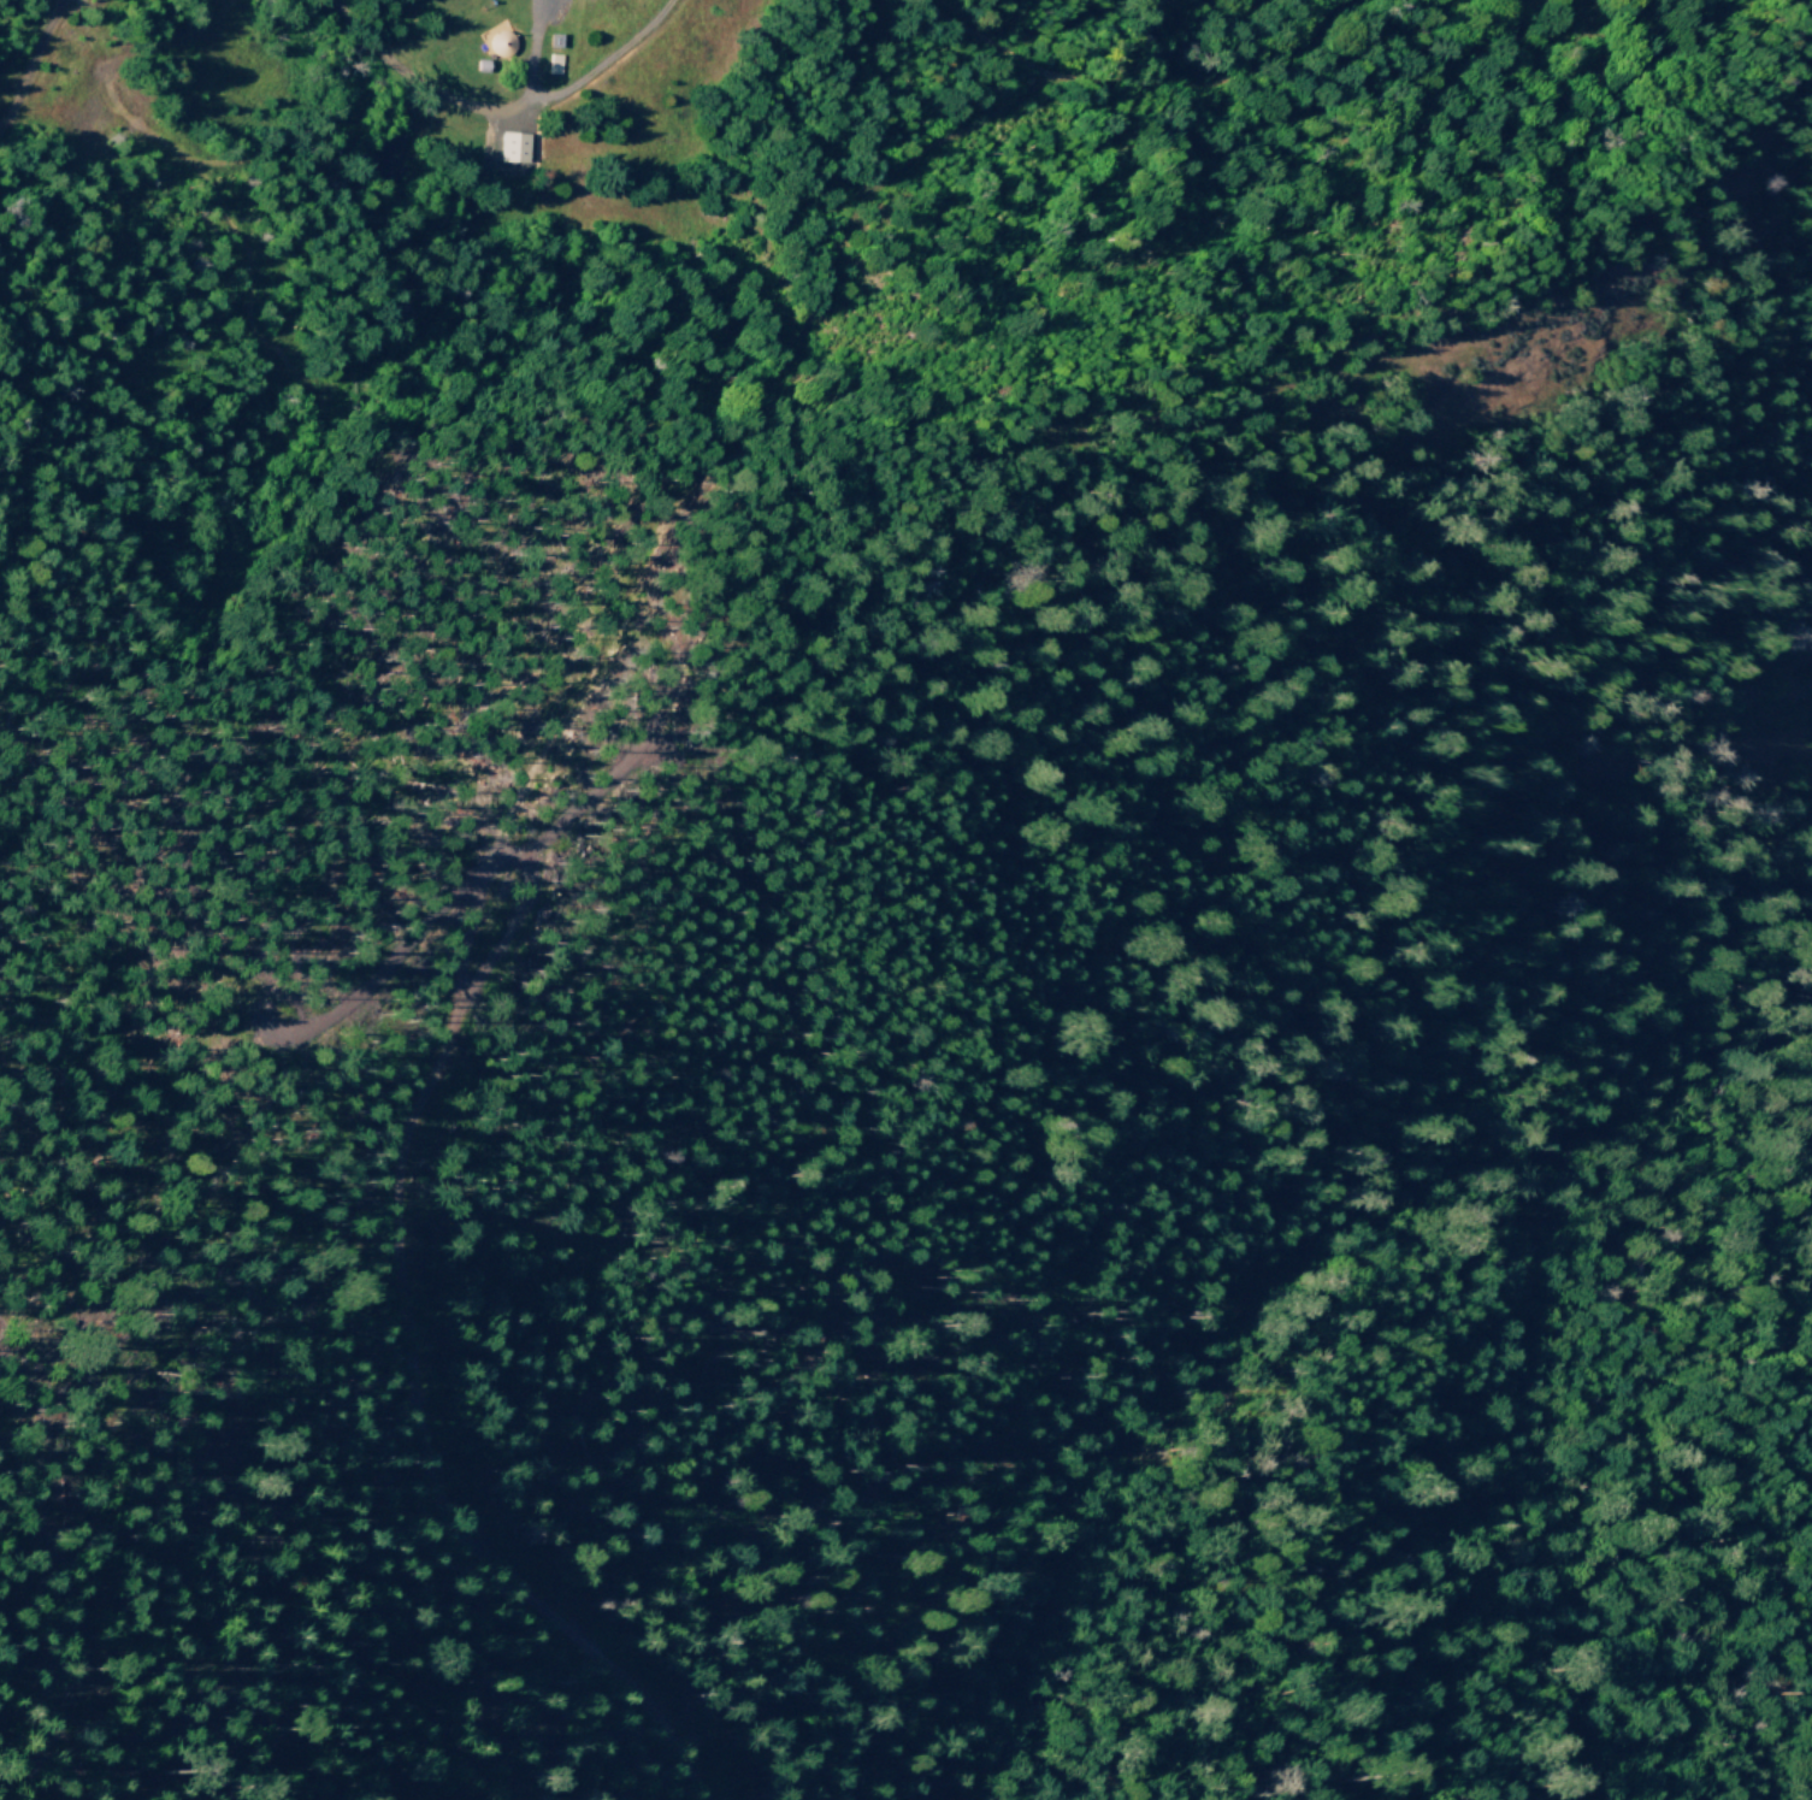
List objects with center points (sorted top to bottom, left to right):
road: (985, 46)
road: (620, 54)
road: (29, 60)
road: (430, 92)
road: (814, 313)
road: (405, 1394)

